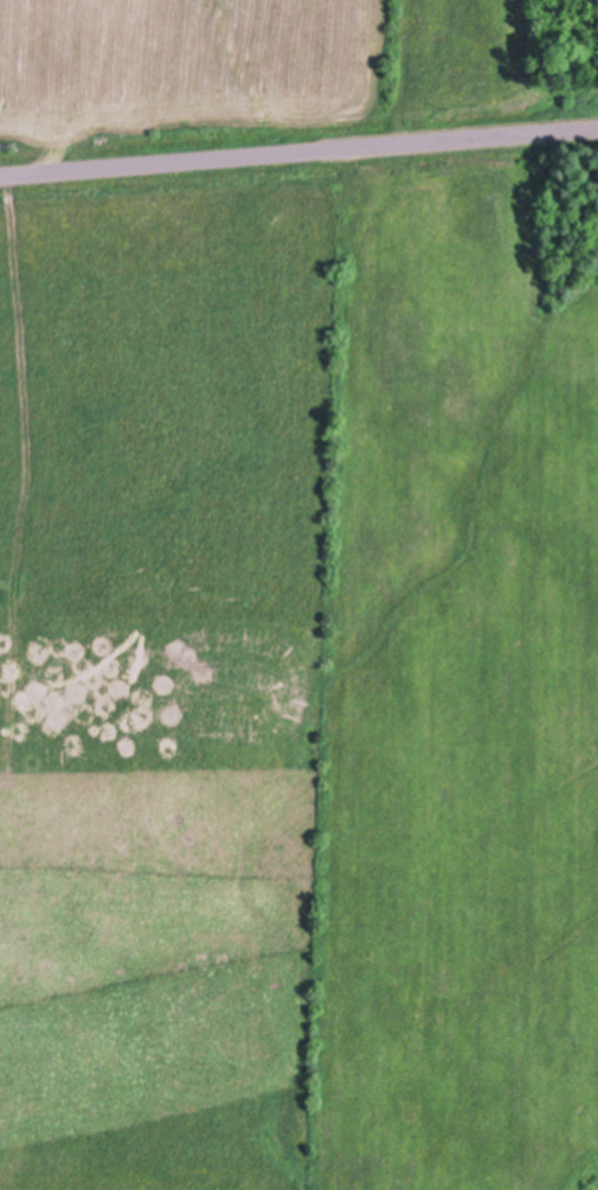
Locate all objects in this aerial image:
road: (298, 153)

